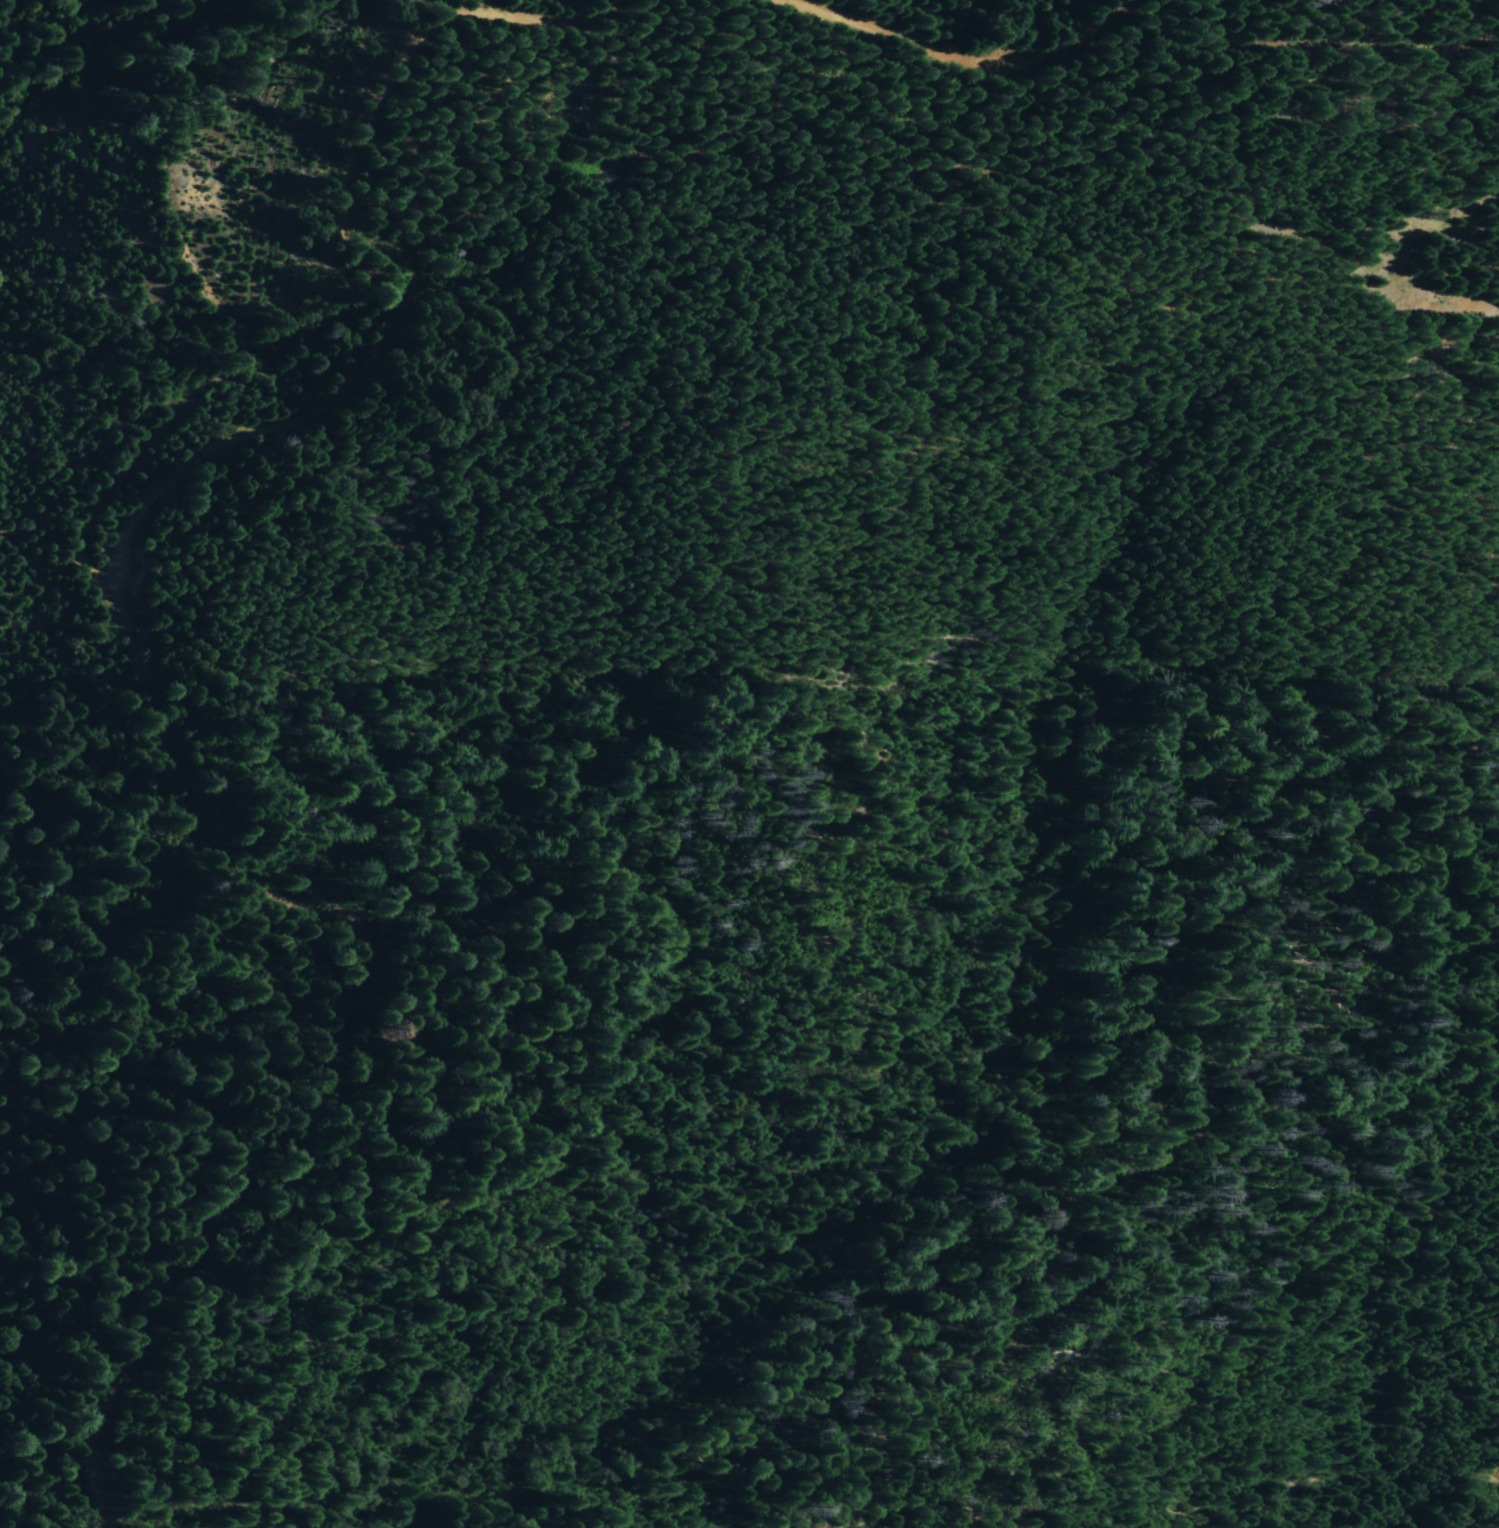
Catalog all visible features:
road: (962, 47)
park: (652, 690)
road: (164, 720)
park: (717, 734)

